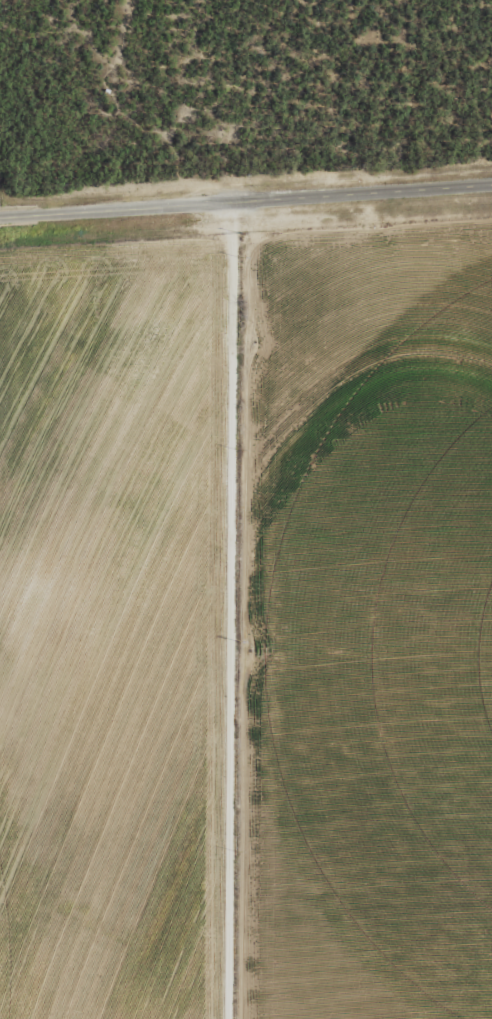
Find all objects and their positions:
railway: (246, 179)
road: (246, 206)
road: (224, 613)

